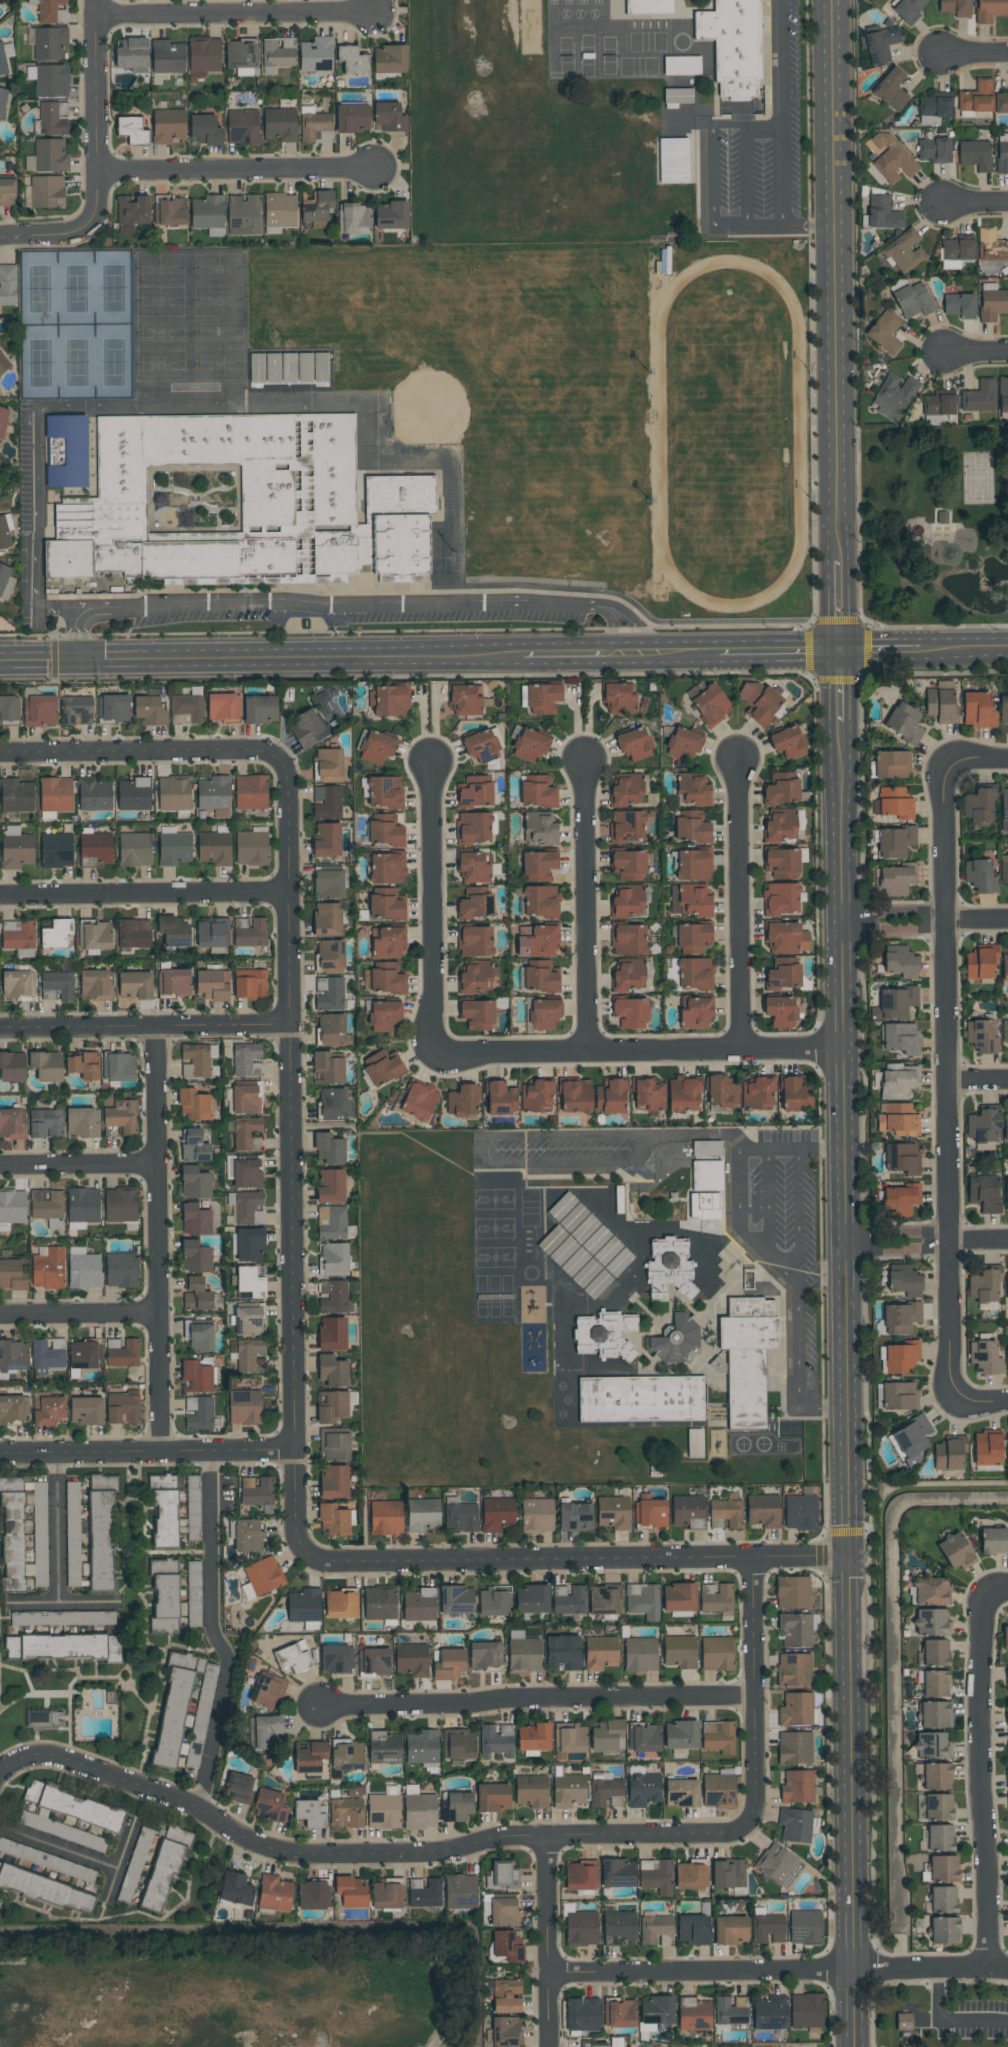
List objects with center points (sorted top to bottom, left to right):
building: (649, 7)
building: (908, 8)
building: (955, 8)
building: (990, 10)
building: (50, 11)
road: (231, 14)
building: (49, 43)
building: (733, 44)
building: (880, 45)
building: (204, 54)
building: (316, 54)
building: (131, 55)
building: (277, 55)
road: (970, 55)
building: (167, 57)
building: (242, 57)
building: (389, 59)
building: (352, 60)
building: (2, 62)
building: (49, 80)
road: (98, 84)
building: (891, 90)
building: (678, 95)
building: (977, 97)
building: (1001, 103)
building: (934, 108)
building: (389, 117)
building: (352, 118)
building: (51, 119)
building: (280, 124)
road: (748, 124)
building: (168, 126)
building: (315, 126)
building: (243, 127)
building: (132, 130)
building: (204, 130)
road: (780, 138)
building: (934, 150)
building: (1002, 153)
building: (975, 154)
building: (48, 157)
building: (890, 158)
building: (673, 160)
road: (237, 168)
road: (747, 173)
building: (7, 191)
building: (47, 192)
road: (974, 202)
building: (316, 205)
road: (712, 205)
building: (132, 210)
building: (280, 210)
building: (169, 211)
building: (207, 212)
building: (882, 213)
building: (243, 215)
building: (391, 215)
building: (354, 219)
road: (76, 235)
building: (991, 246)
building: (902, 252)
building: (956, 252)
road: (834, 283)
building: (8, 285)
building: (914, 300)
building: (992, 302)
building: (960, 305)
building: (885, 332)
road: (976, 353)
building: (894, 396)
building: (979, 397)
building: (1003, 398)
building: (939, 403)
road: (381, 414)
building: (3, 420)
building: (66, 451)
park: (978, 478)
road: (35, 481)
building: (399, 493)
building: (230, 505)
building: (943, 522)
road: (883, 526)
park: (934, 530)
building: (5, 532)
building: (5, 580)
road: (355, 604)
road: (836, 609)
road: (964, 651)
road: (879, 652)
road: (771, 654)
road: (627, 655)
road: (676, 655)
road: (565, 656)
road: (261, 659)
road: (837, 687)
building: (543, 696)
building: (618, 697)
building: (464, 699)
building: (388, 701)
building: (759, 701)
building: (941, 702)
building: (711, 705)
building: (113, 706)
building: (223, 706)
building: (1003, 706)
building: (76, 708)
building: (260, 708)
building: (978, 708)
building: (9, 709)
building: (39, 709)
building: (186, 709)
building: (149, 710)
building: (904, 723)
building: (308, 728)
building: (634, 742)
building: (683, 742)
building: (787, 742)
building: (530, 744)
building: (376, 746)
building: (480, 746)
road: (132, 753)
road: (975, 762)
building: (329, 763)
building: (892, 764)
building: (781, 788)
building: (626, 789)
building: (692, 789)
building: (383, 791)
building: (474, 791)
building: (537, 791)
building: (214, 792)
building: (250, 792)
building: (55, 793)
building: (134, 793)
building: (173, 793)
building: (94, 794)
building: (15, 795)
building: (327, 802)
building: (894, 802)
building: (1004, 803)
building: (978, 804)
building: (780, 825)
building: (626, 826)
building: (473, 827)
building: (539, 828)
building: (692, 829)
building: (386, 833)
building: (327, 839)
building: (895, 841)
building: (251, 846)
building: (16, 848)
building: (174, 848)
building: (214, 848)
building: (134, 849)
building: (56, 850)
building: (95, 850)
building: (782, 862)
building: (628, 864)
building: (693, 864)
building: (387, 867)
building: (472, 867)
building: (1003, 868)
building: (979, 875)
building: (894, 880)
building: (328, 884)
building: (539, 884)
road: (145, 895)
building: (781, 898)
building: (690, 900)
building: (627, 901)
building: (475, 903)
road: (737, 905)
building: (386, 907)
road: (583, 907)
road: (430, 911)
building: (327, 919)
road: (923, 923)
building: (173, 929)
building: (250, 931)
building: (210, 932)
building: (56, 933)
building: (134, 933)
building: (94, 934)
building: (694, 936)
building: (18, 937)
building: (785, 937)
building: (628, 938)
building: (474, 940)
building: (538, 940)
building: (387, 942)
building: (329, 956)
building: (900, 961)
building: (979, 963)
building: (1005, 967)
building: (695, 973)
building: (783, 974)
building: (628, 976)
building: (476, 977)
building: (540, 979)
building: (173, 981)
building: (384, 981)
building: (16, 983)
building: (95, 983)
building: (135, 983)
building: (250, 983)
building: (212, 984)
building: (57, 986)
building: (329, 993)
building: (895, 1002)
building: (780, 1010)
building: (695, 1011)
building: (544, 1012)
building: (630, 1012)
building: (477, 1013)
building: (384, 1015)
road: (144, 1027)
building: (331, 1028)
building: (1005, 1029)
building: (982, 1035)
building: (899, 1037)
road: (639, 1050)
building: (195, 1060)
building: (246, 1060)
building: (83, 1064)
building: (12, 1065)
building: (46, 1065)
building: (118, 1066)
building: (381, 1067)
building: (327, 1068)
road: (946, 1081)
building: (898, 1083)
road: (977, 1084)
building: (721, 1091)
building: (648, 1093)
building: (683, 1093)
building: (757, 1093)
building: (791, 1094)
building: (536, 1095)
building: (574, 1095)
building: (610, 1095)
building: (500, 1097)
building: (246, 1099)
building: (463, 1100)
building: (418, 1101)
building: (333, 1103)
building: (194, 1104)
building: (122, 1116)
building: (898, 1120)
building: (12, 1122)
building: (81, 1122)
building: (45, 1123)
building: (983, 1125)
building: (1006, 1128)
building: (247, 1134)
road: (695, 1135)
building: (194, 1146)
building: (707, 1147)
building: (329, 1148)
road: (789, 1148)
road: (290, 1151)
building: (901, 1157)
road: (482, 1159)
road: (77, 1167)
building: (247, 1172)
building: (707, 1175)
building: (194, 1182)
building: (330, 1185)
building: (984, 1192)
building: (1006, 1194)
building: (900, 1199)
road: (767, 1202)
building: (120, 1204)
building: (47, 1207)
building: (82, 1207)
building: (12, 1208)
road: (798, 1218)
building: (195, 1219)
building: (332, 1222)
building: (590, 1234)
road: (155, 1240)
building: (250, 1244)
road: (925, 1246)
building: (196, 1257)
building: (333, 1259)
building: (574, 1262)
building: (669, 1268)
building: (83, 1269)
building: (121, 1270)
building: (12, 1275)
building: (251, 1280)
building: (904, 1281)
building: (1006, 1284)
building: (984, 1286)
road: (797, 1288)
building: (196, 1294)
building: (333, 1297)
road: (78, 1313)
building: (900, 1317)
building: (248, 1321)
building: (332, 1333)
building: (604, 1335)
building: (199, 1337)
building: (675, 1338)
building: (122, 1353)
building: (48, 1354)
building: (83, 1354)
building: (1007, 1354)
building: (248, 1355)
building: (13, 1356)
building: (985, 1357)
building: (747, 1358)
building: (899, 1358)
building: (332, 1370)
building: (196, 1377)
road: (843, 1384)
building: (899, 1395)
road: (979, 1398)
building: (640, 1399)
building: (130, 1406)
building: (244, 1406)
building: (332, 1406)
building: (12, 1408)
building: (113, 1408)
building: (48, 1410)
building: (86, 1410)
building: (199, 1413)
building: (911, 1440)
building: (695, 1443)
building: (334, 1446)
building: (987, 1448)
building: (1007, 1450)
road: (147, 1453)
building: (948, 1454)
building: (334, 1482)
building: (256, 1492)
building: (193, 1508)
building: (164, 1509)
building: (763, 1510)
building: (688, 1511)
building: (613, 1512)
building: (726, 1512)
building: (800, 1512)
building: (650, 1513)
building: (497, 1514)
building: (72, 1515)
building: (422, 1515)
building: (536, 1516)
building: (386, 1517)
building: (574, 1517)
building: (460, 1518)
building: (333, 1520)
building: (101, 1531)
building: (11, 1535)
building: (247, 1536)
building: (39, 1537)
building: (994, 1541)
road: (56, 1550)
building: (955, 1552)
road: (576, 1561)
building: (72, 1575)
building: (264, 1575)
road: (996, 1590)
building: (792, 1592)
building: (931, 1592)
building: (194, 1594)
building: (164, 1596)
building: (679, 1597)
building: (456, 1599)
building: (532, 1599)
building: (716, 1599)
building: (568, 1600)
building: (605, 1600)
building: (494, 1601)
building: (643, 1601)
road: (84, 1602)
building: (379, 1602)
building: (341, 1604)
building: (304, 1605)
building: (419, 1605)
building: (62, 1618)
building: (931, 1623)
building: (797, 1629)
road: (213, 1632)
building: (1005, 1640)
building: (62, 1647)
building: (679, 1651)
building: (563, 1652)
building: (716, 1653)
building: (933, 1653)
building: (640, 1654)
building: (483, 1655)
building: (524, 1655)
building: (598, 1655)
building: (292, 1659)
building: (335, 1659)
building: (412, 1660)
building: (374, 1661)
building: (448, 1663)
building: (794, 1669)
building: (1007, 1679)
building: (935, 1684)
road: (752, 1685)
building: (267, 1694)
road: (538, 1695)
building: (796, 1710)
building: (935, 1715)
building: (44, 1718)
building: (172, 1718)
building: (200, 1718)
building: (264, 1734)
building: (681, 1735)
building: (606, 1736)
building: (534, 1737)
building: (644, 1737)
building: (718, 1737)
building: (569, 1740)
building: (496, 1741)
building: (459, 1744)
building: (929, 1746)
building: (384, 1748)
building: (794, 1748)
building: (423, 1750)
building: (309, 1756)
building: (346, 1756)
building: (936, 1776)
building: (1006, 1777)
road: (985, 1780)
building: (797, 1787)
building: (239, 1789)
building: (643, 1790)
building: (531, 1791)
building: (568, 1791)
building: (718, 1791)
building: (605, 1792)
building: (493, 1798)
building: (73, 1806)
building: (269, 1806)
building: (456, 1807)
building: (938, 1807)
building: (419, 1809)
building: (383, 1811)
building: (310, 1813)
building: (346, 1813)
building: (795, 1825)
building: (57, 1829)
building: (940, 1838)
road: (368, 1855)
road: (83, 1856)
building: (47, 1861)
building: (135, 1861)
building: (778, 1865)
building: (163, 1869)
building: (943, 1869)
building: (617, 1873)
building: (728, 1873)
building: (691, 1875)
building: (500, 1876)
building: (580, 1876)
building: (656, 1876)
road: (114, 1883)
building: (236, 1889)
building: (45, 1890)
building: (350, 1891)
building: (274, 1893)
building: (424, 1893)
building: (387, 1894)
building: (312, 1895)
building: (460, 1896)
building: (943, 1899)
building: (499, 1910)
building: (805, 1926)
building: (618, 1927)
building: (581, 1928)
building: (768, 1929)
building: (656, 1930)
building: (693, 1930)
building: (730, 1930)
building: (944, 1930)
road: (549, 1941)
building: (508, 1946)
road: (441, 1961)
road: (779, 1969)
road: (945, 1983)
park: (242, 1984)
building: (506, 1996)
building: (656, 2009)
building: (731, 2011)
building: (619, 2012)
building: (769, 2012)
building: (806, 2012)
road: (443, 2013)
building: (694, 2013)
park: (939, 2013)
building: (582, 2014)
road: (874, 2014)
parking lot: (967, 2016)
road: (948, 2020)
building: (904, 2022)
building: (506, 2031)
building: (592, 2045)

